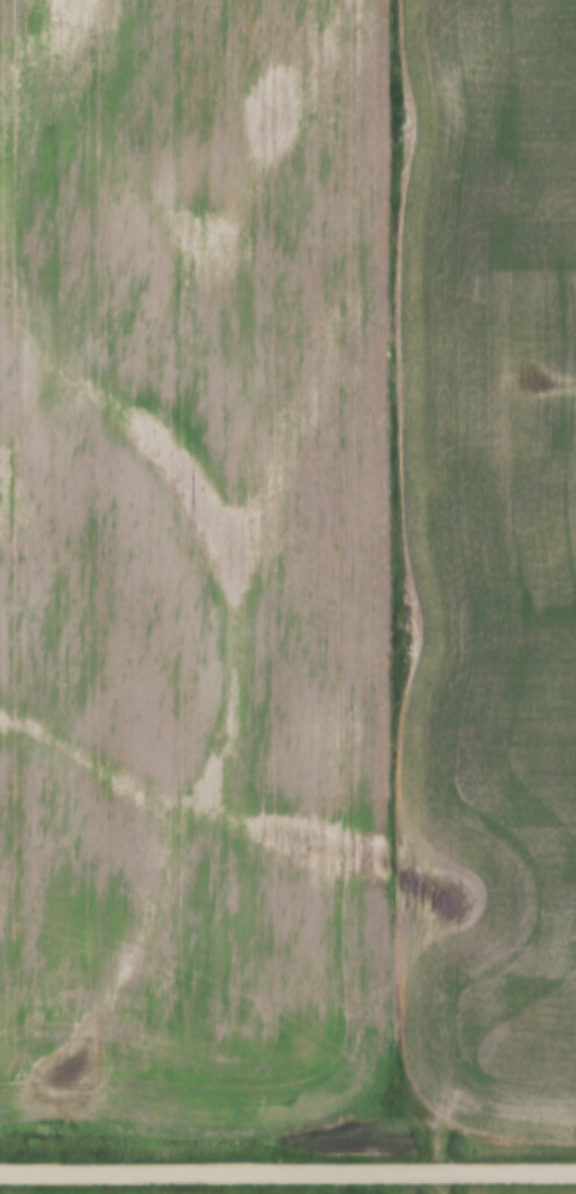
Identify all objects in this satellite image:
road: (288, 1174)

